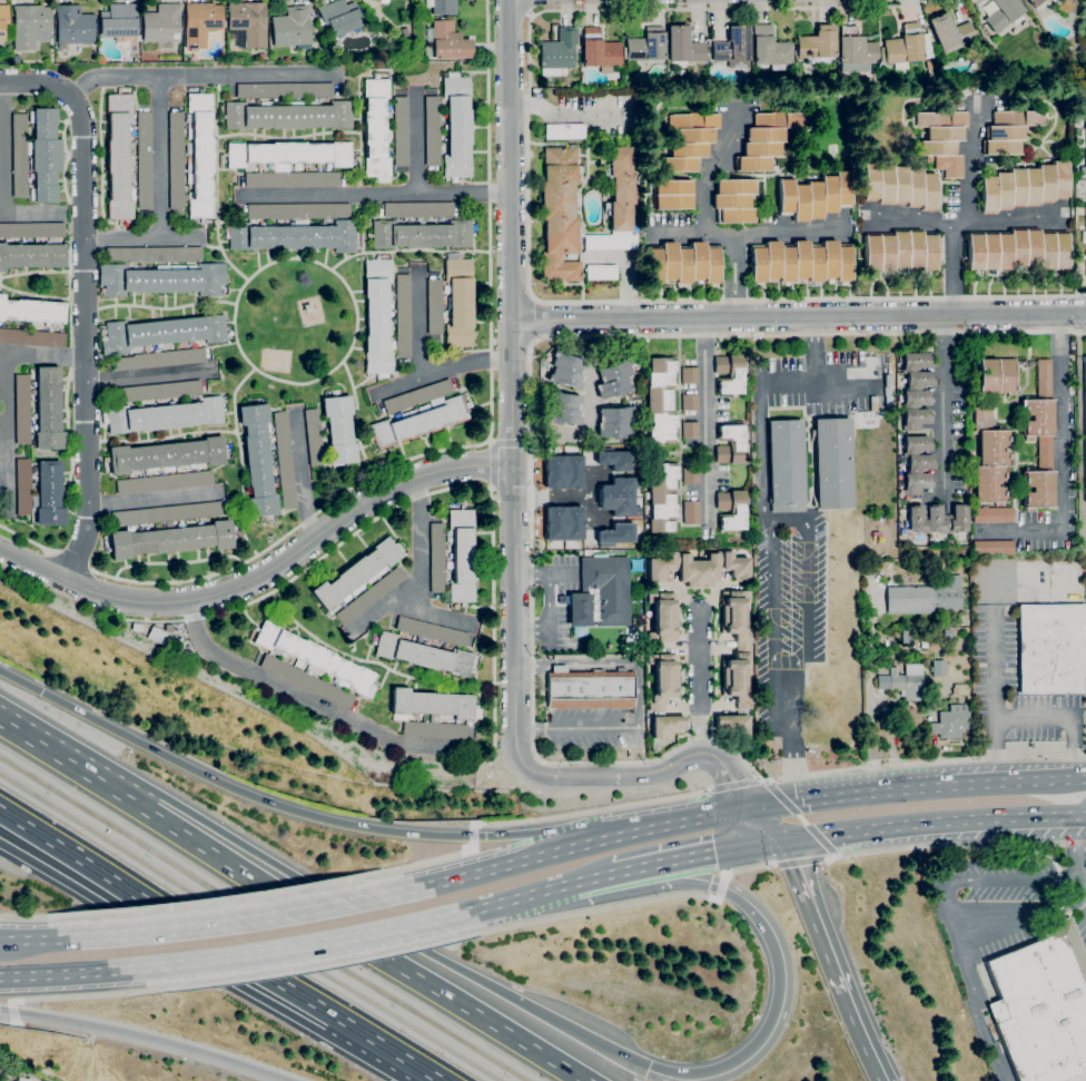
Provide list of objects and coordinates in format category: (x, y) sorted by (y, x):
building: (378, 0)
building: (986, 0)
building: (1039, 4)
building: (442, 7)
road: (533, 7)
building: (1003, 13)
building: (339, 17)
building: (2, 19)
building: (119, 22)
building: (200, 22)
building: (161, 23)
building: (247, 23)
building: (73, 24)
building: (30, 26)
building: (292, 27)
building: (949, 32)
building: (403, 33)
building: (448, 41)
building: (645, 46)
building: (683, 46)
building: (817, 46)
building: (905, 47)
building: (733, 48)
building: (770, 49)
building: (599, 51)
building: (855, 51)
building: (557, 53)
building: (57, 60)
road: (203, 79)
road: (38, 82)
building: (283, 90)
road: (561, 114)
building: (287, 115)
building: (1018, 117)
building: (940, 118)
building: (778, 119)
building: (693, 120)
building: (1085, 126)
building: (456, 127)
building: (375, 130)
building: (432, 130)
building: (401, 131)
building: (564, 131)
building: (944, 132)
building: (1005, 132)
building: (766, 135)
road: (288, 136)
road: (361, 136)
building: (693, 136)
road: (416, 146)
building: (1001, 147)
building: (937, 148)
building: (687, 149)
building: (762, 149)
building: (199, 154)
building: (20, 155)
building: (45, 155)
building: (288, 155)
building: (119, 156)
road: (158, 159)
road: (67, 160)
building: (145, 160)
building: (176, 160)
road: (969, 163)
building: (678, 164)
building: (752, 164)
building: (947, 165)
road: (3, 176)
building: (1059, 178)
building: (292, 179)
building: (870, 180)
building: (1045, 183)
building: (899, 184)
road: (216, 185)
building: (885, 185)
building: (734, 186)
building: (1016, 186)
building: (1030, 186)
building: (672, 187)
building: (914, 187)
building: (842, 188)
building: (928, 190)
building: (1003, 190)
road: (374, 193)
building: (987, 193)
building: (828, 194)
building: (784, 196)
building: (731, 200)
building: (813, 200)
building: (673, 202)
building: (799, 203)
building: (616, 204)
building: (418, 209)
building: (298, 212)
building: (560, 214)
building: (734, 215)
road: (911, 217)
road: (959, 219)
building: (1085, 226)
road: (788, 227)
road: (709, 228)
building: (31, 229)
road: (683, 229)
building: (422, 234)
road: (526, 234)
building: (293, 236)
road: (142, 239)
road: (210, 246)
building: (1030, 247)
building: (1017, 248)
building: (900, 249)
building: (914, 249)
building: (1046, 250)
building: (1060, 250)
road: (407, 252)
building: (928, 252)
building: (974, 252)
building: (989, 252)
building: (1003, 252)
building: (871, 253)
building: (886, 253)
building: (32, 254)
building: (155, 254)
building: (800, 258)
building: (697, 259)
building: (772, 259)
building: (829, 259)
building: (668, 262)
building: (843, 262)
building: (682, 263)
building: (757, 263)
building: (786, 263)
building: (813, 263)
building: (653, 264)
building: (711, 264)
road: (625, 271)
road: (41, 272)
building: (601, 272)
building: (164, 279)
road: (41, 296)
building: (458, 303)
building: (434, 306)
road: (160, 307)
building: (31, 311)
building: (403, 315)
road: (799, 316)
building: (377, 317)
road: (534, 320)
building: (389, 323)
road: (419, 327)
building: (160, 333)
building: (32, 337)
road: (85, 338)
road: (814, 348)
building: (160, 358)
building: (915, 361)
road: (343, 362)
building: (566, 370)
road: (441, 373)
building: (729, 373)
building: (689, 375)
building: (996, 376)
road: (149, 379)
building: (613, 379)
building: (919, 380)
road: (845, 381)
road: (69, 382)
building: (159, 391)
road: (8, 395)
building: (417, 396)
building: (915, 399)
road: (945, 399)
building: (661, 400)
building: (689, 402)
building: (22, 409)
building: (562, 409)
building: (48, 410)
building: (162, 415)
building: (393, 416)
road: (513, 416)
road: (707, 419)
building: (915, 419)
building: (421, 420)
building: (1085, 421)
building: (615, 423)
road: (760, 425)
building: (338, 429)
building: (690, 430)
road: (575, 431)
building: (314, 436)
road: (162, 439)
road: (492, 441)
building: (1039, 441)
road: (511, 443)
building: (730, 444)
building: (916, 444)
road: (1060, 455)
building: (167, 456)
building: (614, 459)
building: (989, 459)
road: (239, 460)
building: (258, 460)
building: (285, 460)
building: (902, 460)
building: (919, 462)
building: (832, 463)
building: (786, 465)
road: (493, 466)
building: (561, 471)
road: (300, 474)
building: (690, 475)
building: (165, 482)
building: (915, 483)
building: (23, 487)
building: (48, 495)
road: (551, 495)
road: (589, 497)
building: (616, 497)
building: (661, 498)
road: (152, 500)
building: (731, 509)
building: (691, 512)
building: (167, 513)
building: (993, 514)
building: (937, 519)
building: (562, 522)
parking lot: (798, 530)
road: (324, 531)
building: (614, 533)
building: (168, 539)
road: (30, 542)
building: (993, 548)
building: (453, 557)
road: (76, 559)
road: (531, 559)
building: (698, 568)
road: (804, 568)
road: (305, 570)
building: (870, 570)
road: (421, 572)
road: (561, 573)
building: (357, 574)
road: (530, 574)
building: (863, 577)
road: (67, 580)
road: (547, 590)
building: (601, 593)
building: (369, 596)
building: (925, 597)
road: (770, 598)
road: (431, 615)
road: (547, 618)
building: (663, 618)
road: (494, 626)
building: (168, 627)
road: (531, 629)
building: (431, 631)
building: (947, 633)
building: (909, 636)
road: (547, 638)
building: (924, 643)
road: (995, 646)
building: (735, 647)
building: (1050, 648)
building: (425, 655)
road: (794, 659)
building: (313, 667)
building: (937, 668)
building: (663, 679)
road: (20, 680)
building: (902, 681)
road: (699, 685)
building: (590, 689)
building: (959, 689)
traffic signals: (41, 691)
road: (638, 694)
road: (869, 696)
building: (968, 698)
road: (308, 700)
building: (434, 713)
road: (1034, 719)
building: (950, 721)
building: (732, 725)
building: (667, 726)
road: (791, 735)
road: (643, 776)
road: (728, 776)
road: (1004, 782)
road: (734, 784)
road: (860, 794)
road: (780, 797)
road: (773, 804)
traffic signals: (749, 808)
road: (295, 810)
road: (591, 810)
road: (1080, 814)
road: (801, 818)
road: (763, 825)
road: (659, 826)
road: (931, 826)
road: (471, 834)
road: (819, 838)
traffic signals: (778, 843)
road: (955, 845)
road: (1076, 851)
road: (712, 852)
road: (799, 862)
road: (418, 864)
road: (749, 868)
road: (631, 869)
road: (480, 871)
road: (593, 878)
parking lot: (1024, 878)
road: (1016, 879)
road: (1082, 879)
road: (722, 886)
road: (320, 887)
road: (1080, 892)
road: (944, 898)
road: (216, 901)
road: (293, 901)
road: (502, 902)
road: (588, 911)
road: (36, 915)
road: (1018, 915)
road: (247, 918)
railway: (264, 918)
railway: (249, 927)
road: (52, 937)
road: (219, 945)
road: (293, 946)
road: (203, 961)
road: (830, 961)
road: (323, 965)
road: (77, 972)
road: (784, 981)
road: (97, 993)
road: (973, 1004)
building: (1043, 1005)
road: (12, 1011)
road: (11, 1021)
road: (147, 1035)
traffic signals: (645, 1069)

